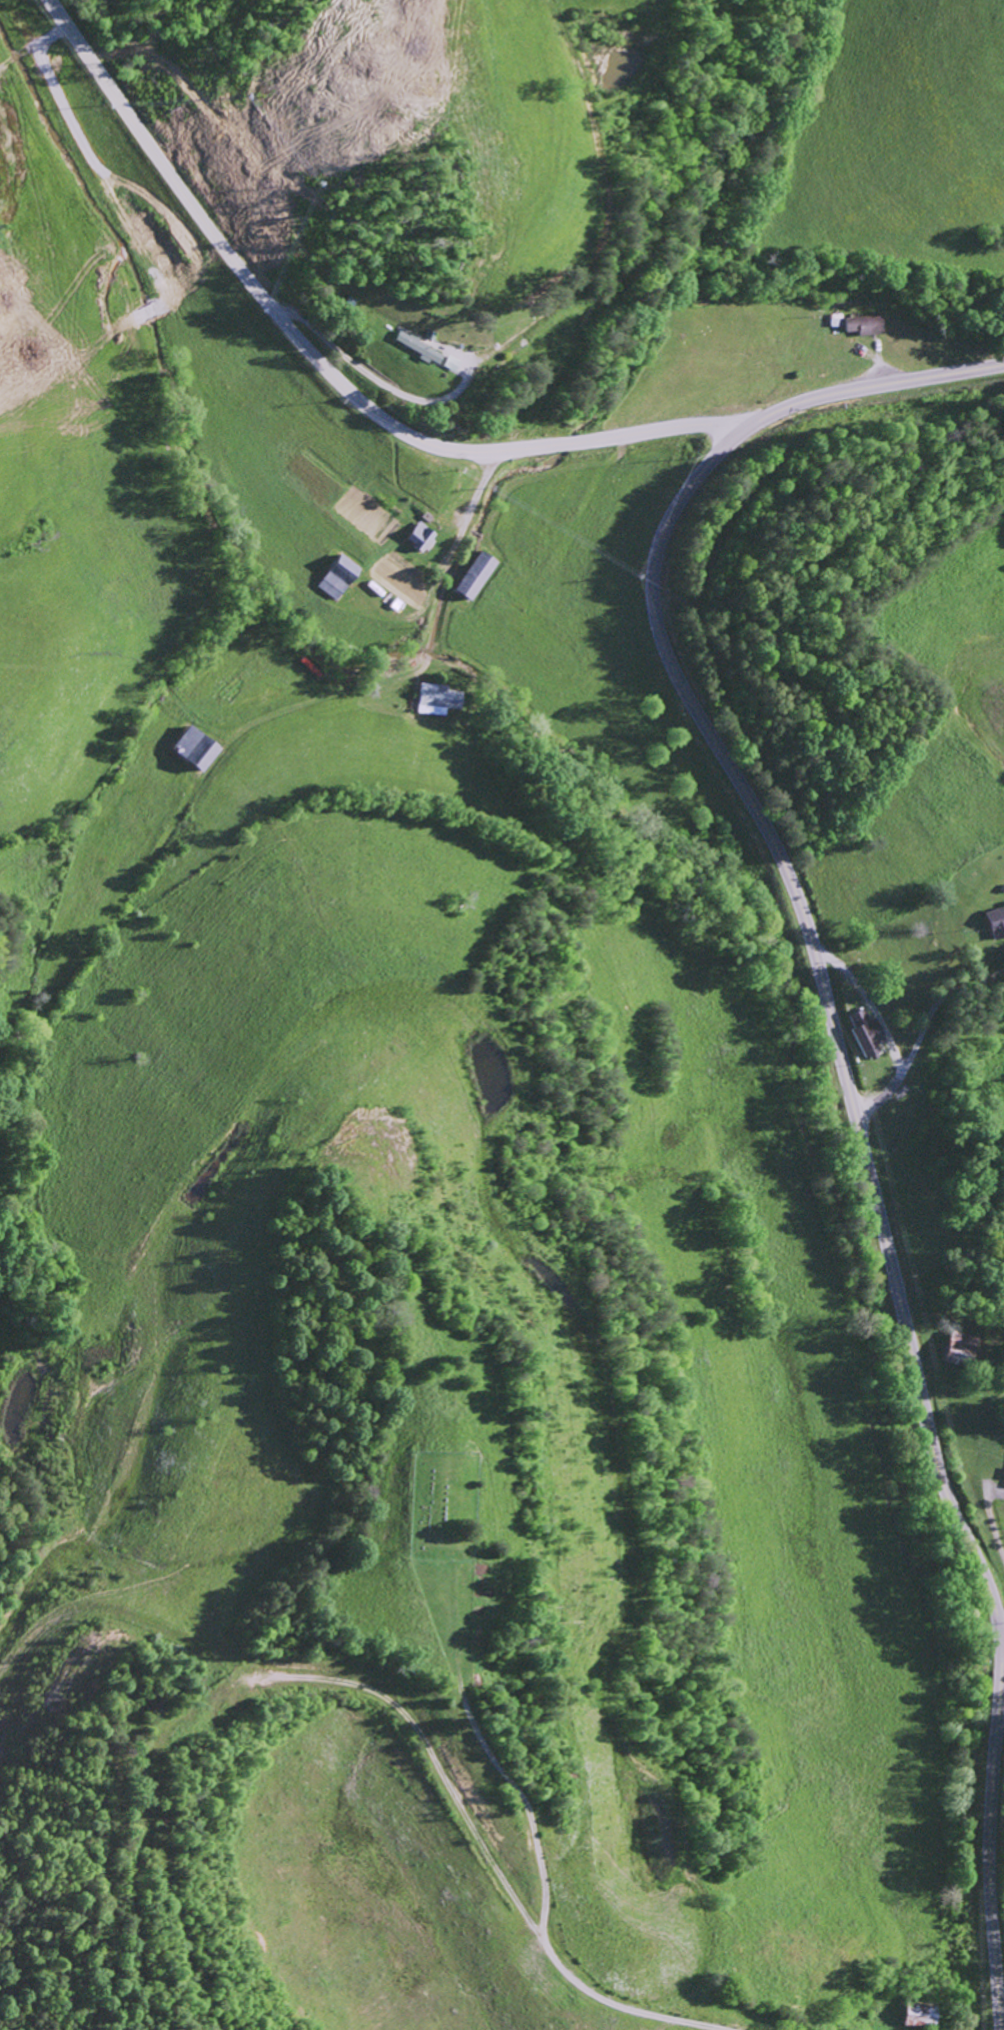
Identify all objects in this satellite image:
road: (367, 49)
road: (191, 238)
building: (866, 323)
building: (418, 346)
road: (322, 364)
road: (874, 384)
road: (33, 409)
building: (421, 536)
building: (475, 574)
building: (439, 698)
building: (193, 748)
building: (996, 922)
road: (827, 998)
building: (866, 1033)
building: (961, 1349)
road: (1001, 1627)
road: (991, 1827)

